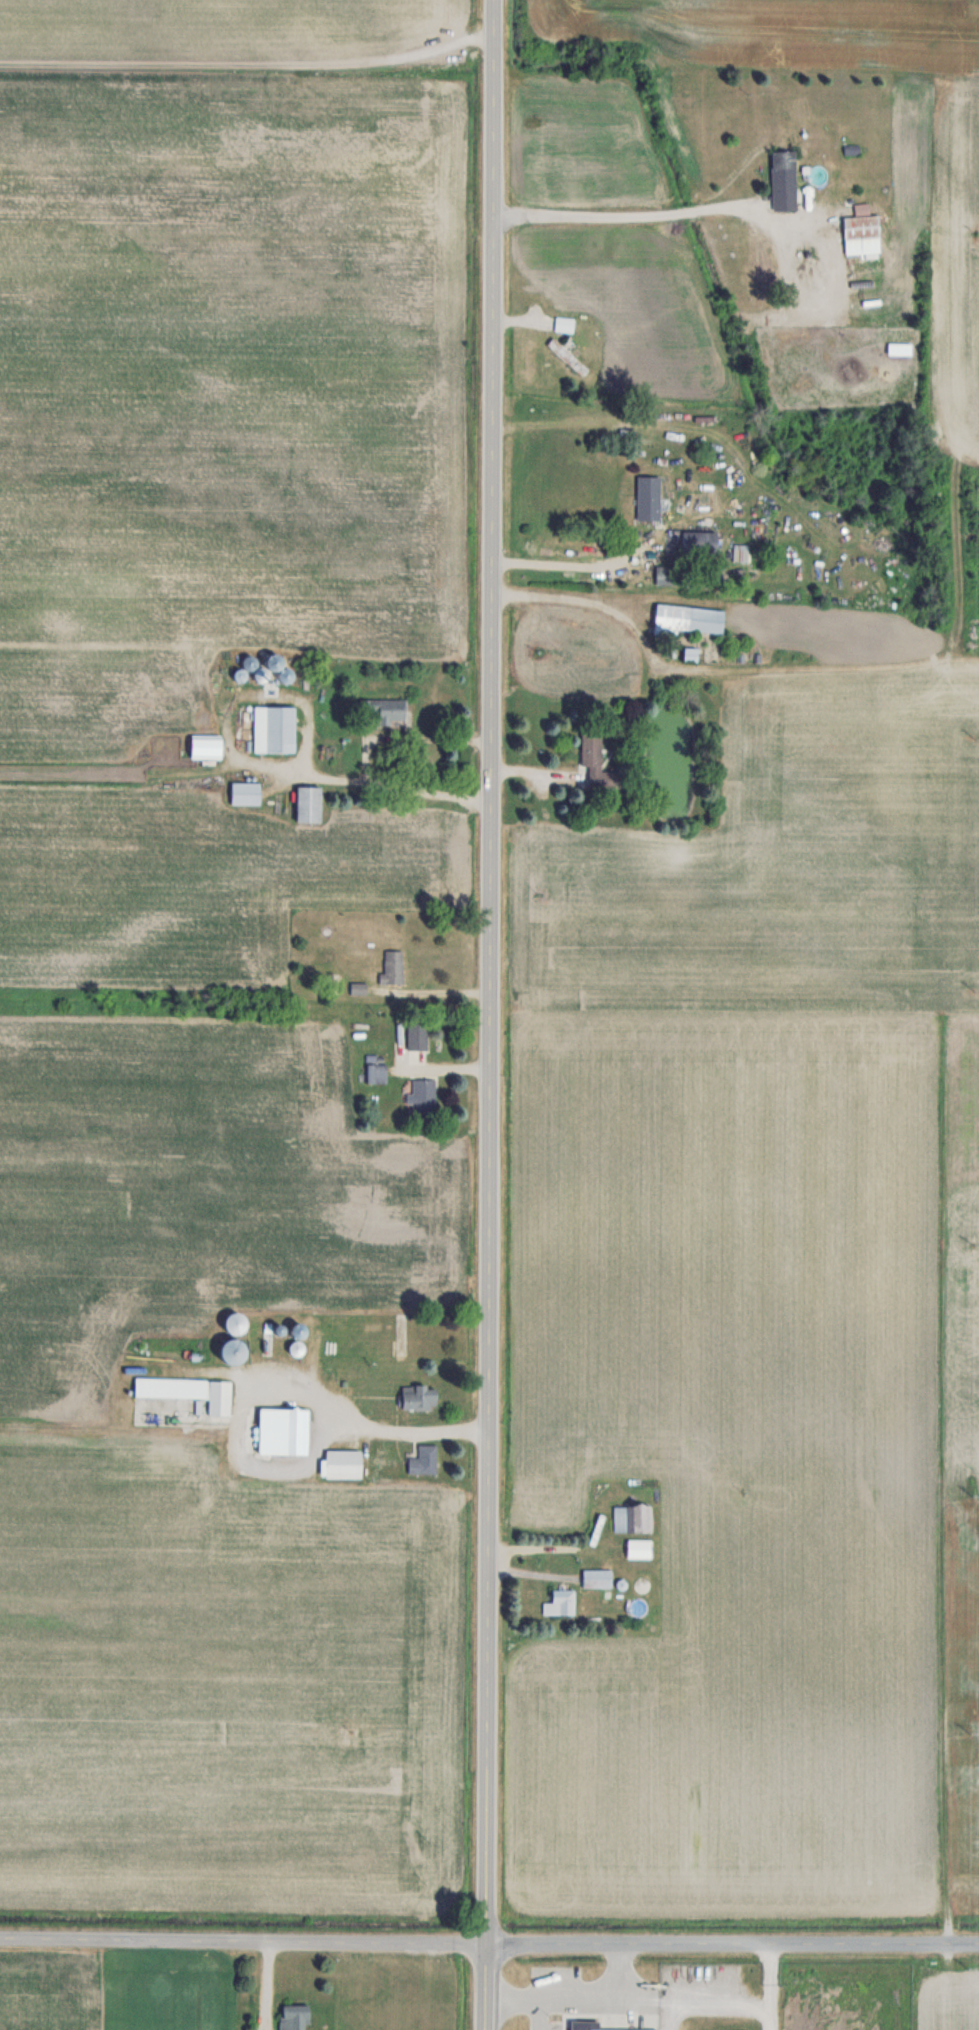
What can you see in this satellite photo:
building: (783, 180)
road: (631, 216)
building: (860, 231)
building: (768, 266)
building: (565, 325)
building: (567, 356)
building: (648, 497)
building: (698, 542)
building: (740, 551)
road: (555, 563)
building: (668, 574)
building: (685, 620)
building: (284, 674)
building: (386, 710)
building: (274, 728)
building: (205, 746)
building: (595, 762)
building: (245, 793)
building: (308, 803)
building: (393, 966)
building: (358, 988)
road: (491, 1015)
building: (416, 1034)
building: (376, 1072)
building: (421, 1092)
building: (234, 1322)
building: (297, 1330)
building: (296, 1348)
building: (231, 1351)
building: (190, 1391)
building: (419, 1398)
building: (285, 1431)
building: (424, 1461)
building: (343, 1463)
building: (632, 1519)
building: (596, 1578)
building: (563, 1602)
road: (489, 1943)
building: (293, 2017)
building: (584, 2025)

